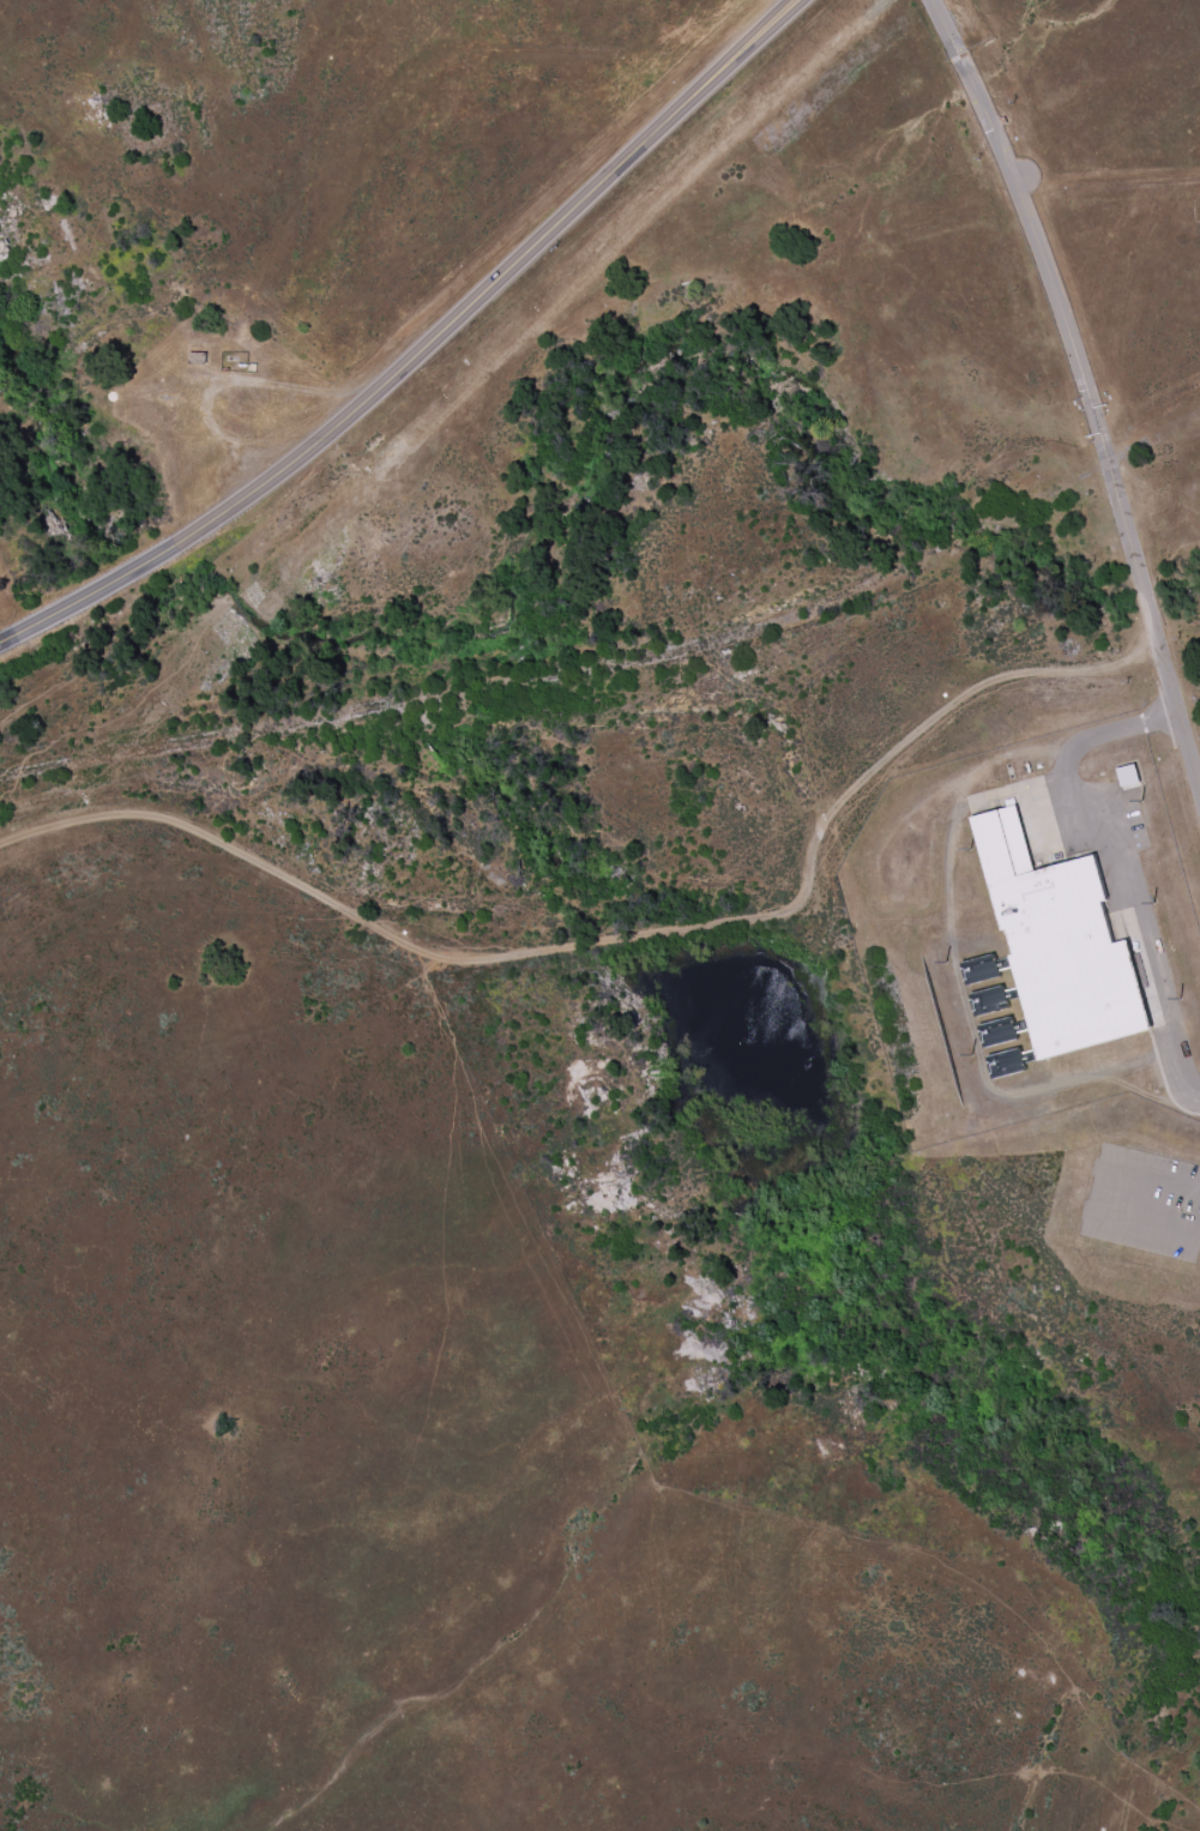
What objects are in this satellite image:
road: (422, 354)
road: (1085, 384)
road: (1121, 863)
road: (625, 940)
building: (1065, 947)
building: (984, 969)
building: (991, 1000)
building: (1002, 1031)
building: (1008, 1064)
road: (1156, 1186)
parking lot: (1145, 1203)
road: (1148, 1230)

